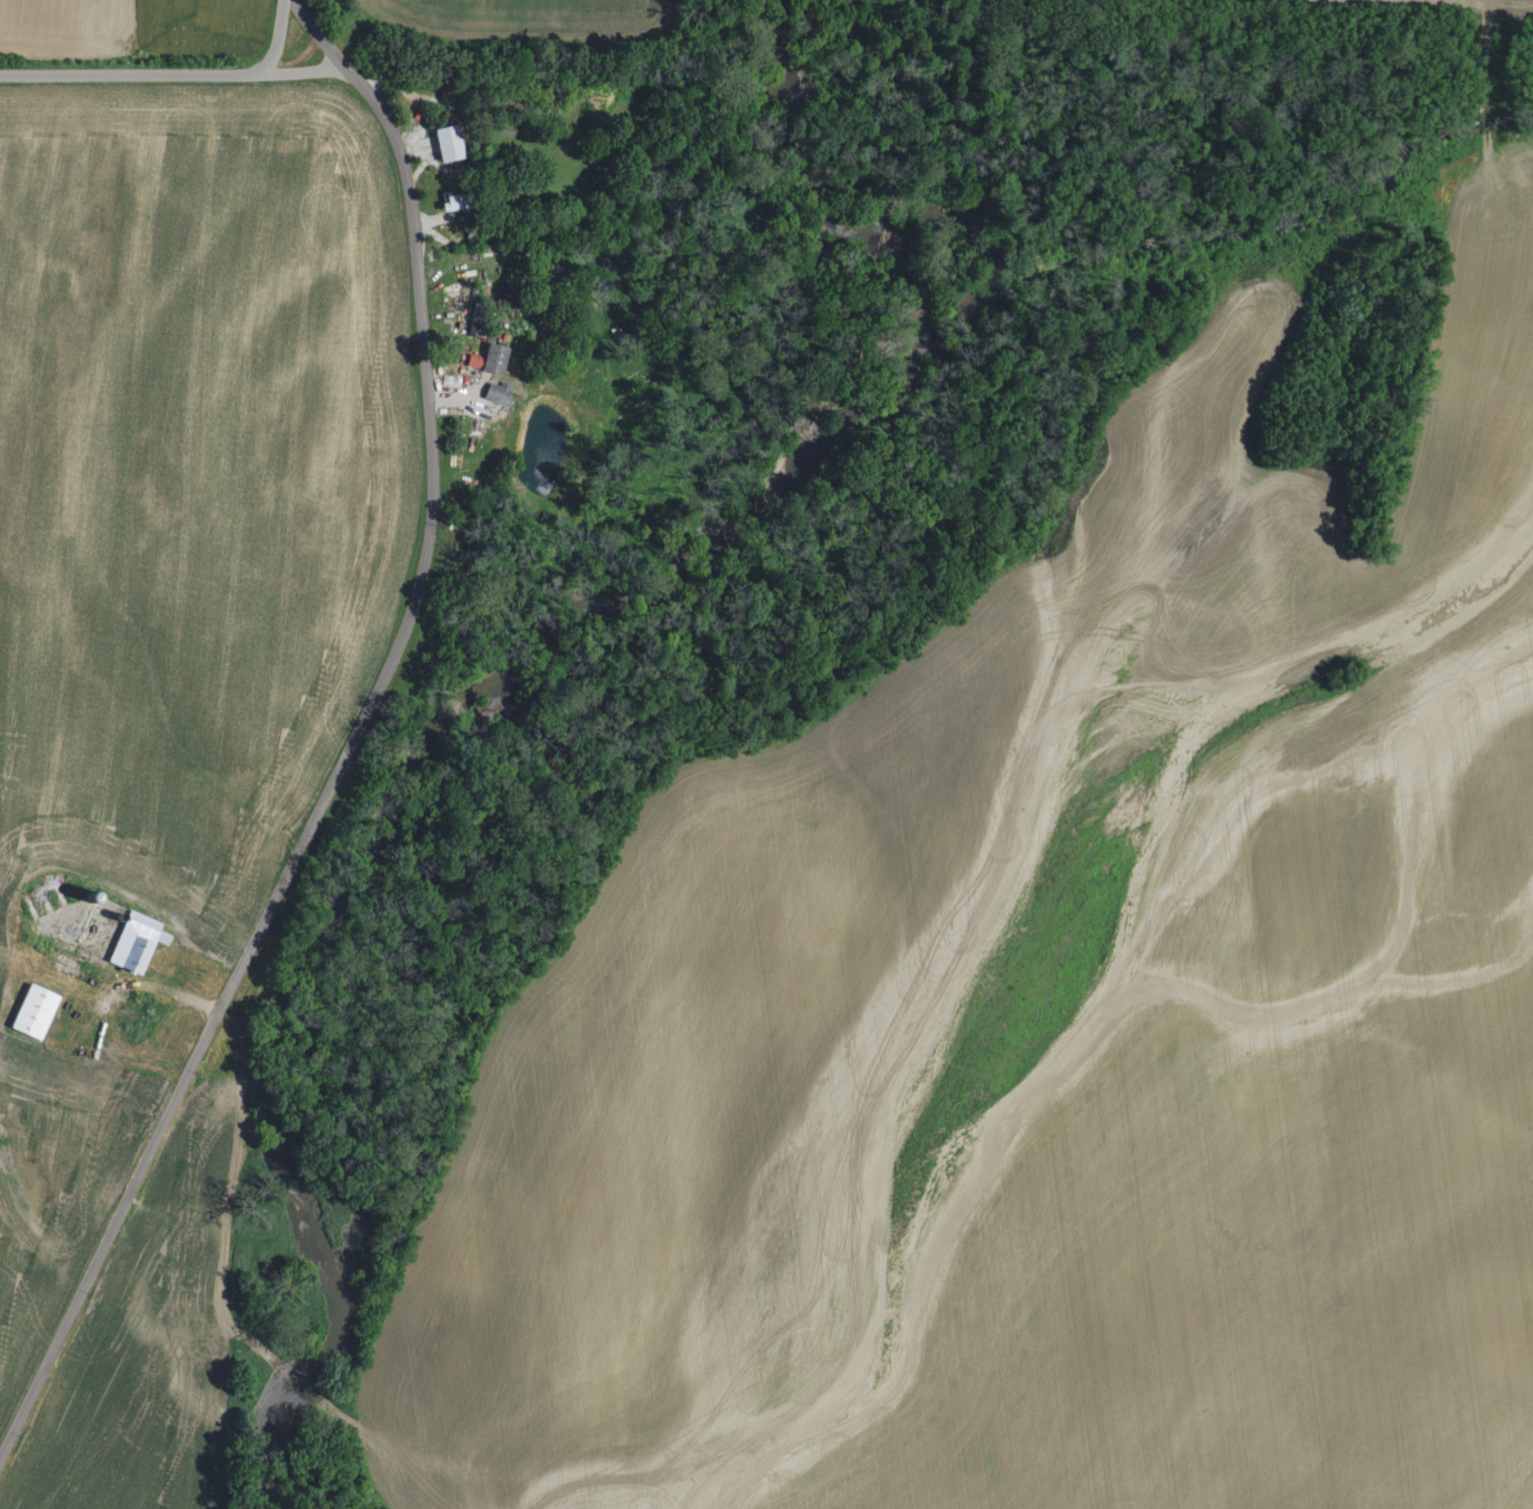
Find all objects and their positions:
road: (276, 37)
road: (330, 43)
road: (173, 73)
building: (453, 141)
building: (463, 200)
building: (494, 357)
building: (500, 391)
road: (328, 793)
building: (141, 941)
building: (39, 1011)

